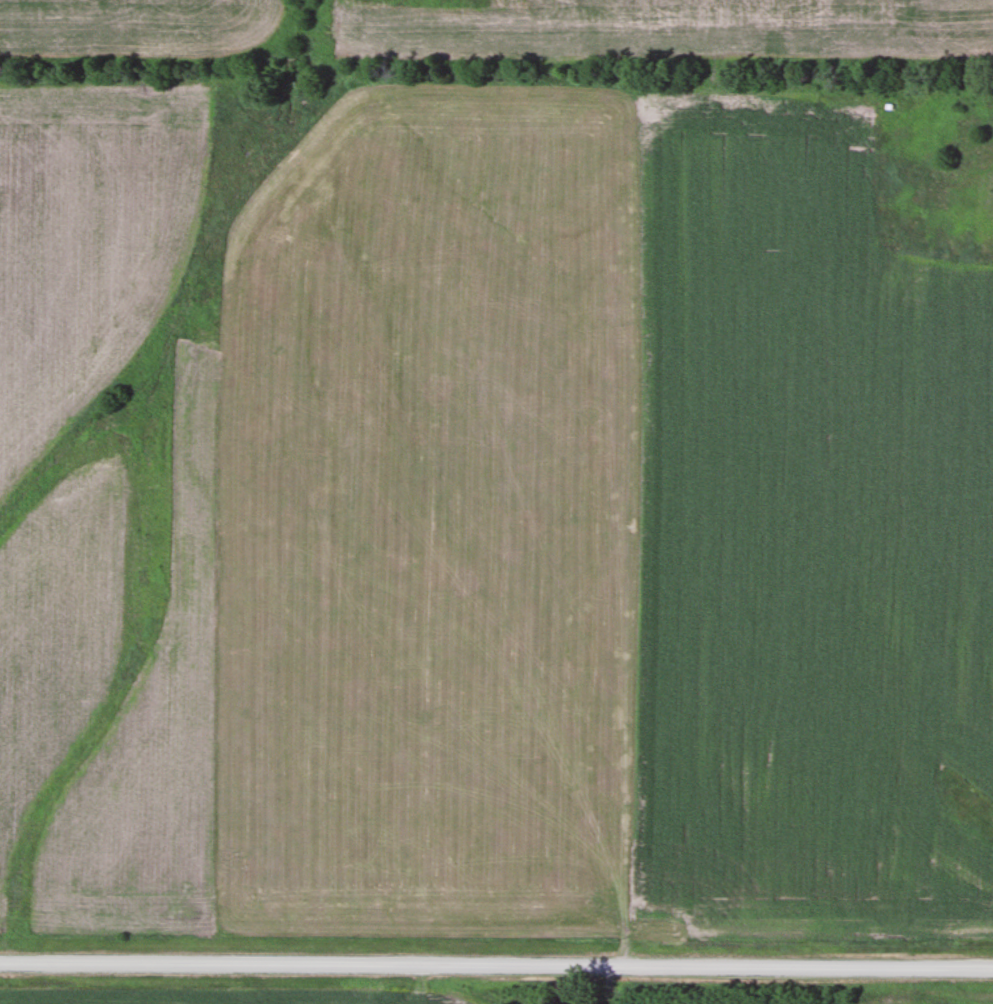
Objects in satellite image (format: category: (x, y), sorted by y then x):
road: (496, 967)

